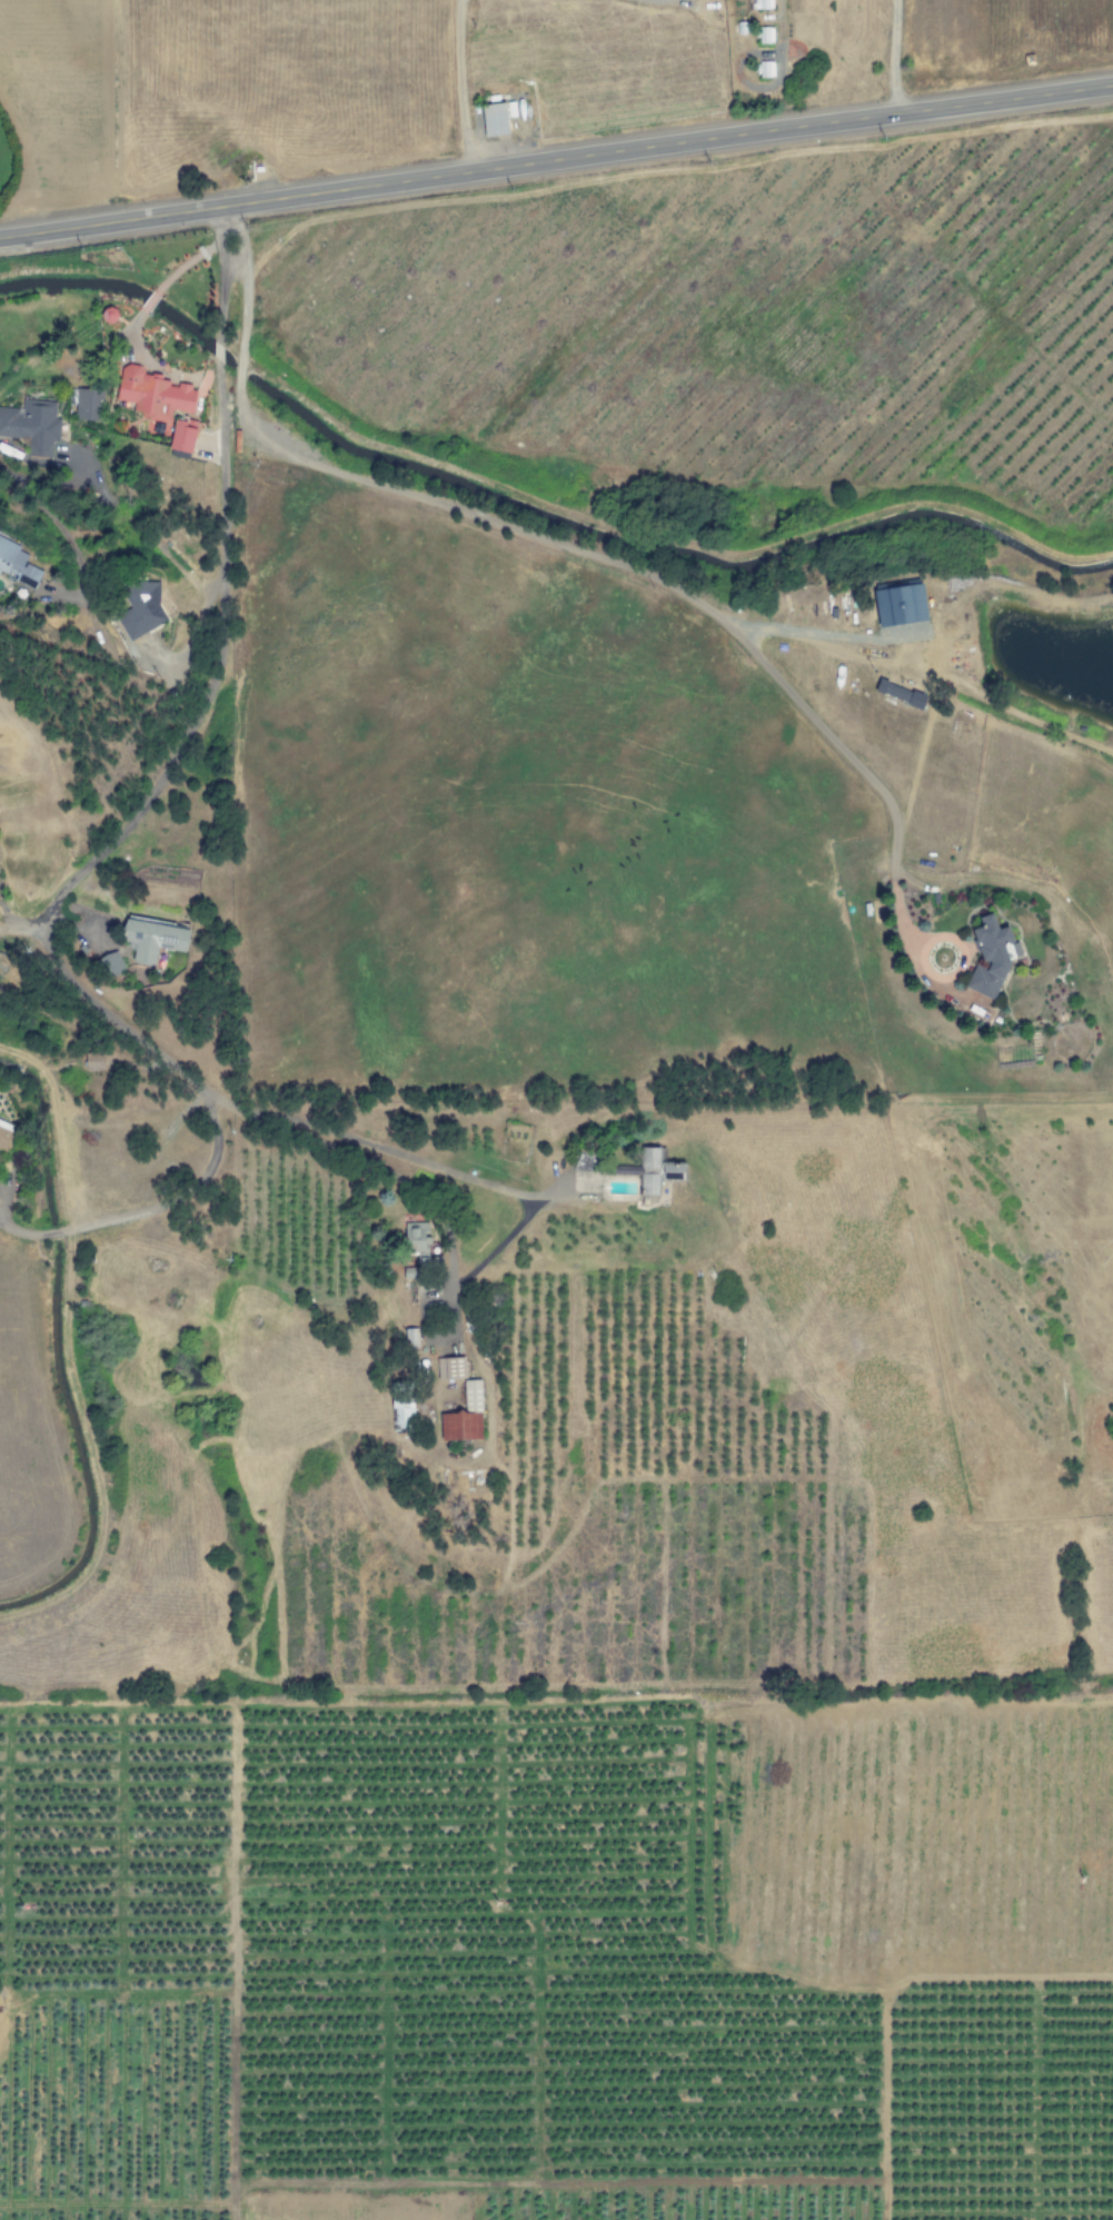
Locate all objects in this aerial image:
building: (762, 4)
building: (764, 36)
crop: (1032, 37)
road: (900, 57)
building: (764, 70)
crop: (274, 88)
building: (494, 120)
road: (556, 162)
road: (217, 275)
road: (217, 350)
building: (153, 394)
building: (87, 405)
building: (31, 426)
building: (182, 436)
building: (17, 565)
building: (898, 605)
building: (141, 611)
building: (898, 694)
road: (183, 726)
road: (17, 928)
building: (152, 940)
building: (988, 958)
building: (110, 964)
building: (92, 1062)
road: (277, 1121)
building: (6, 1136)
building: (656, 1172)
road: (71, 1351)
crop: (948, 1357)
building: (450, 1369)
building: (400, 1406)
building: (464, 1417)

